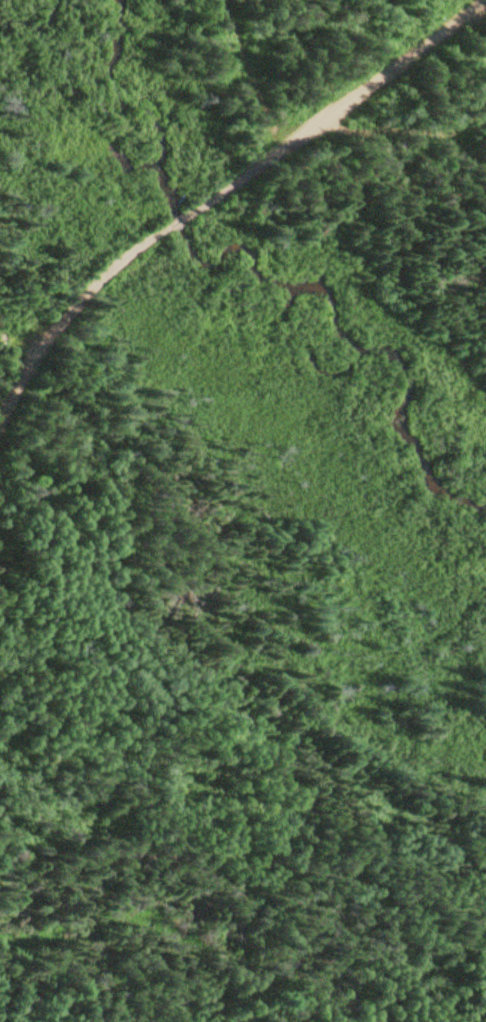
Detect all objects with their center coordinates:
road: (228, 190)

